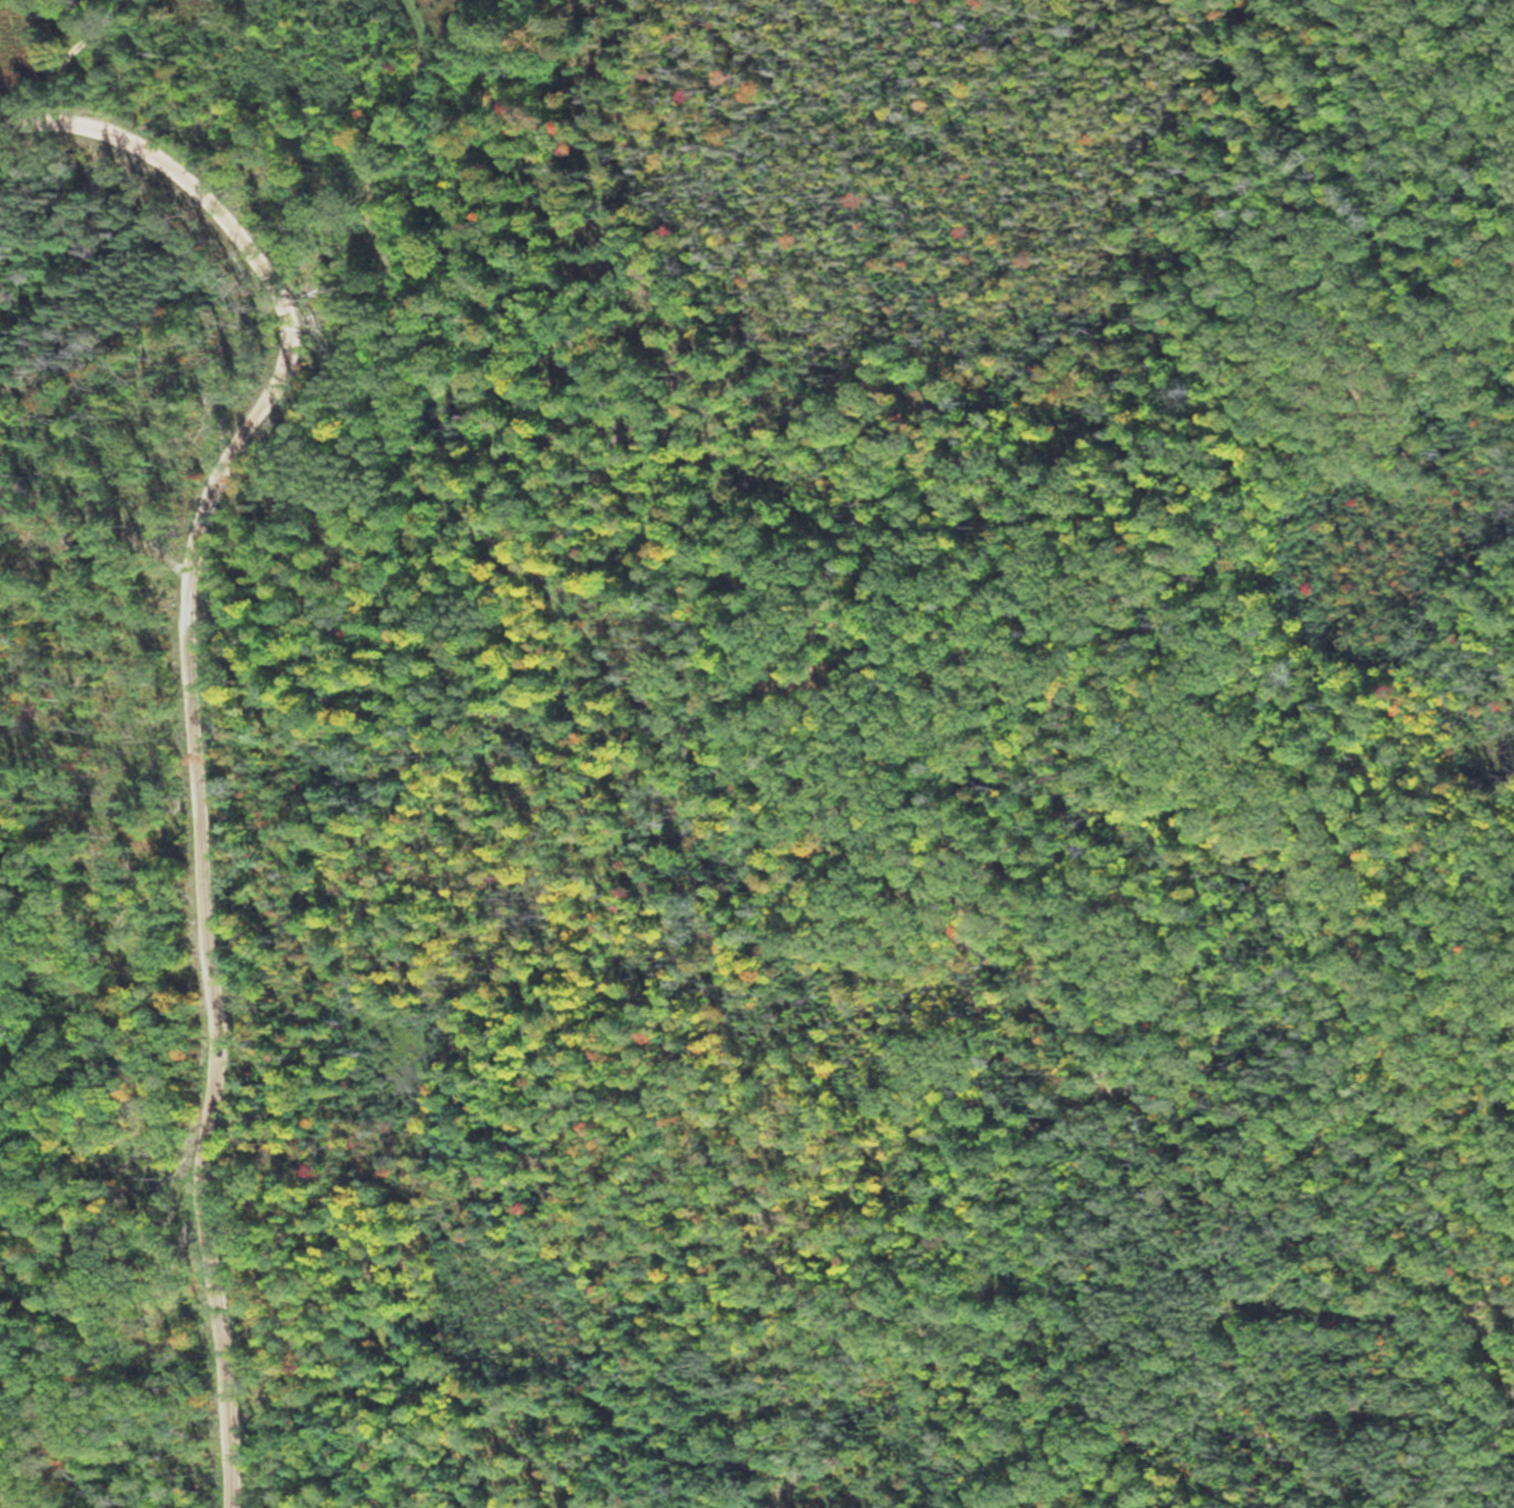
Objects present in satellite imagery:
road: (198, 707)

